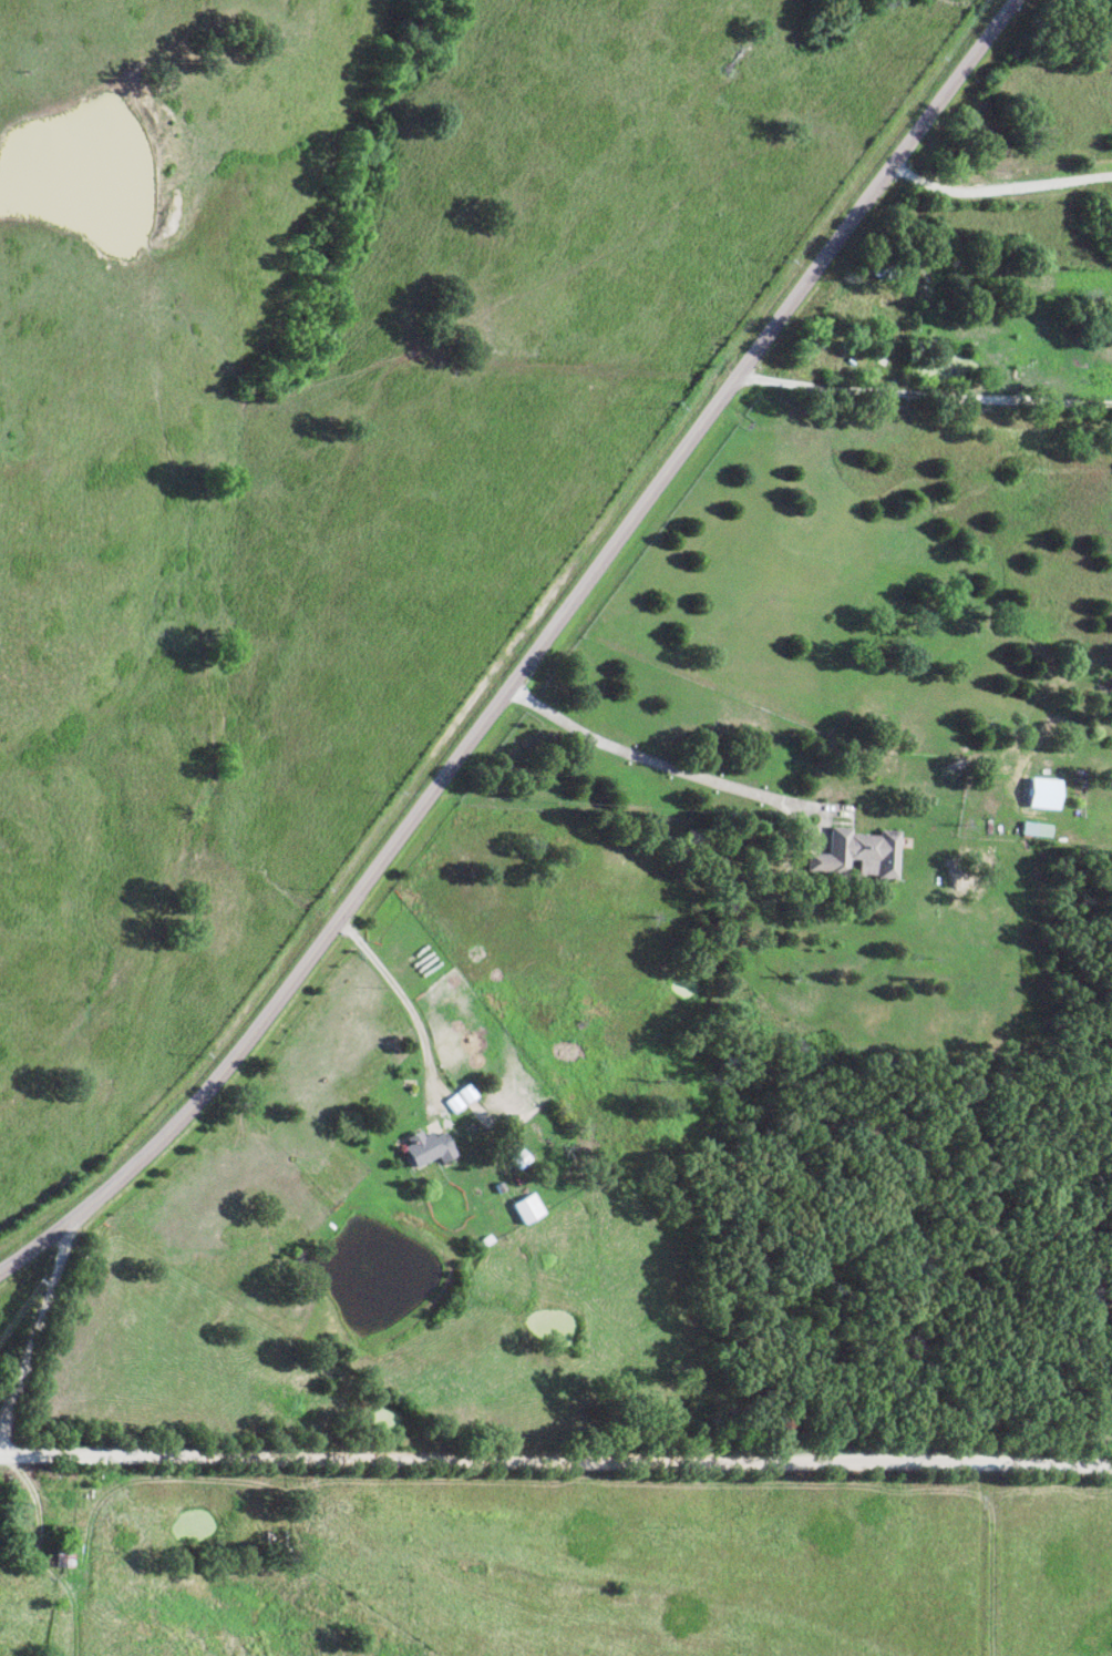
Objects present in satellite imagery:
road: (795, 68)
road: (997, 187)
road: (921, 391)
road: (531, 657)
road: (663, 764)
building: (1050, 794)
building: (1040, 830)
building: (862, 855)
road: (409, 1008)
building: (431, 1148)
building: (531, 1209)
road: (31, 1327)
road: (555, 1475)

